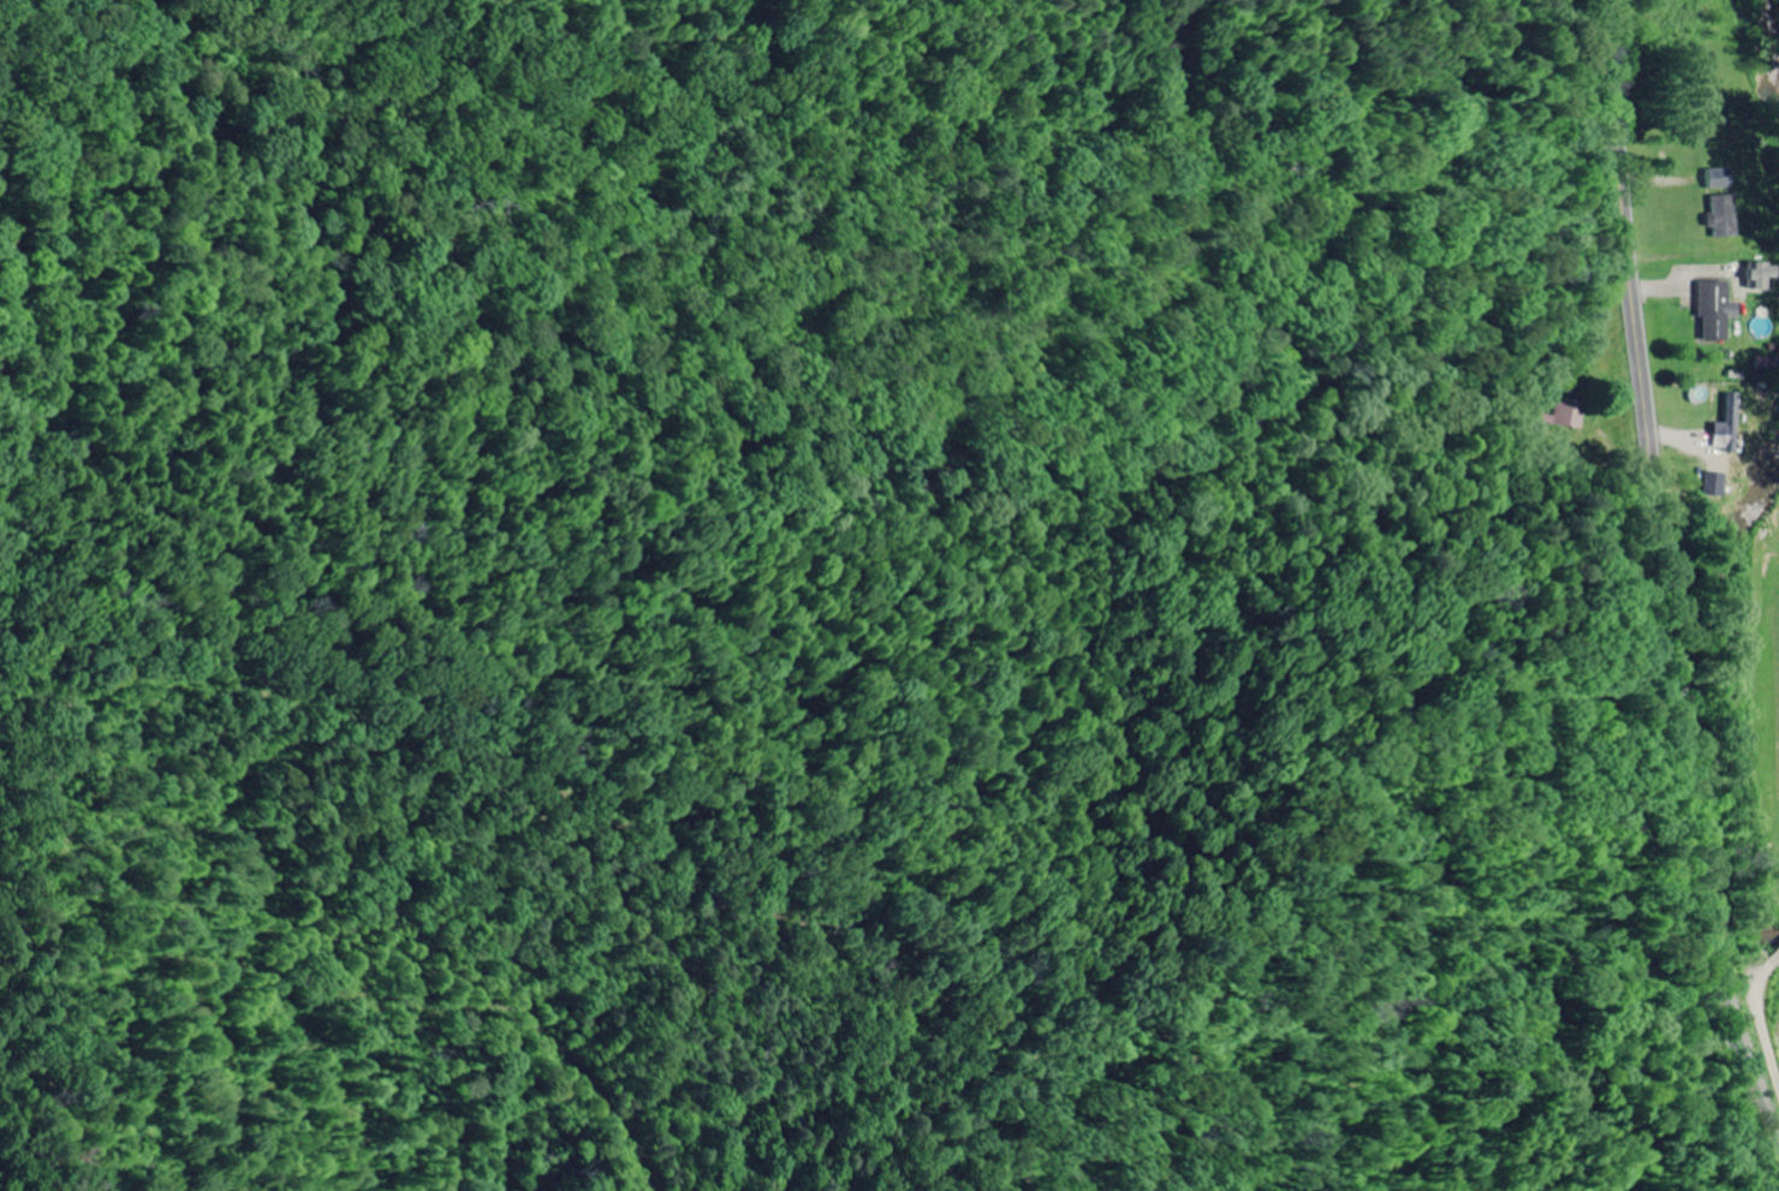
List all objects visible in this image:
road: (1689, 31)
building: (1719, 179)
building: (1723, 218)
building: (1757, 278)
building: (1714, 310)
building: (1566, 416)
road: (1667, 580)
road: (1766, 1013)

